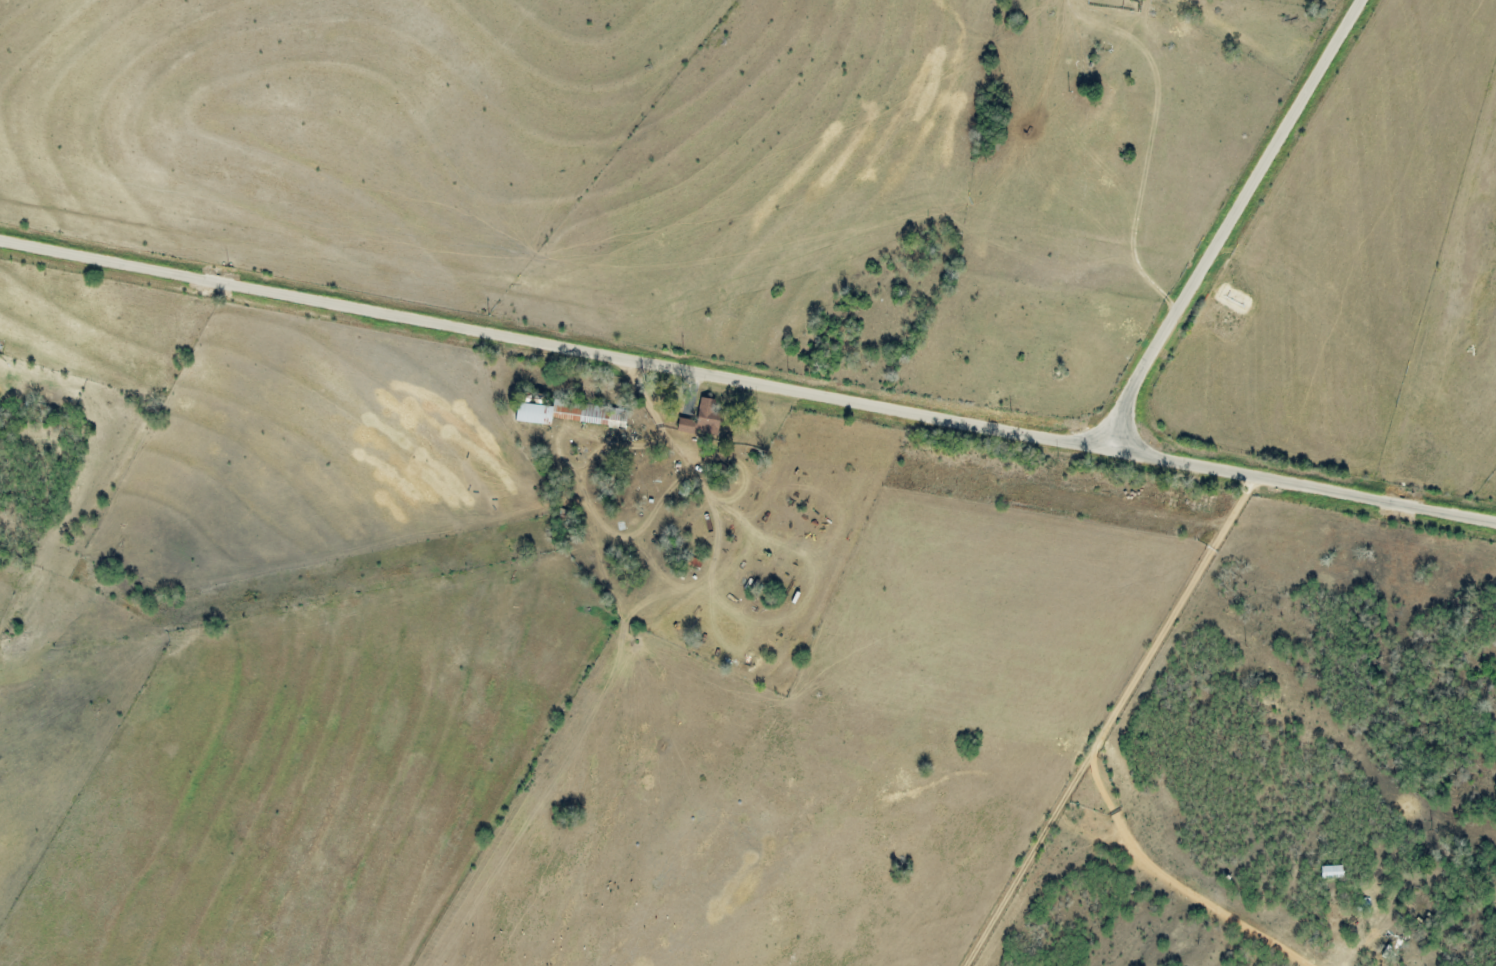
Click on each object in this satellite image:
road: (1231, 222)
road: (748, 379)
building: (573, 414)
building: (702, 420)
road: (1104, 719)
road: (1180, 884)

